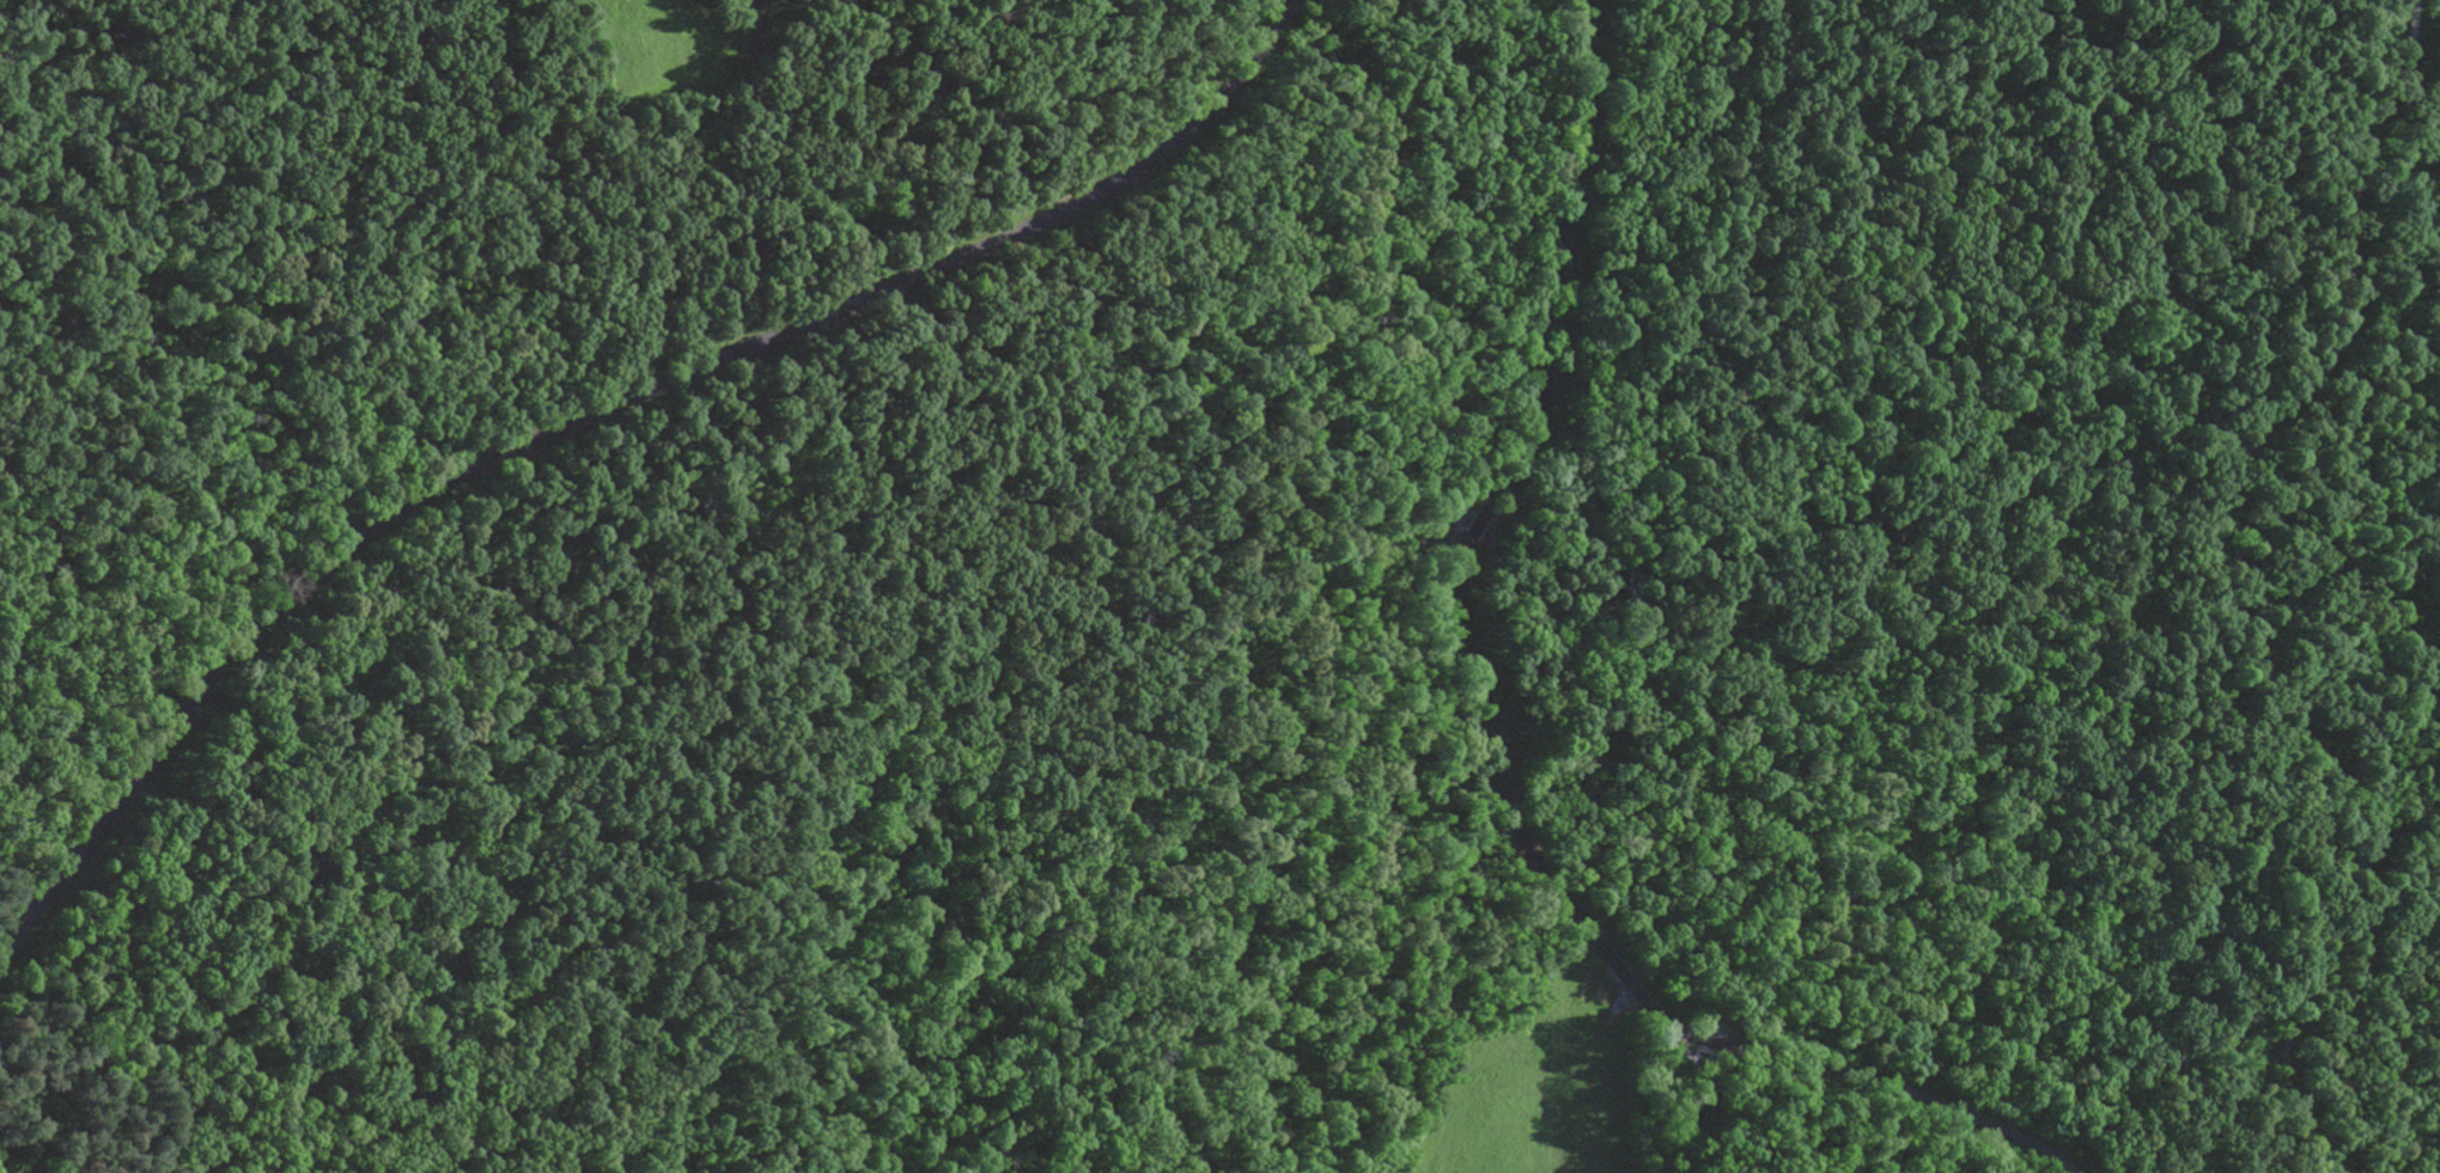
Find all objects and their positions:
road: (595, 414)
road: (2244, 597)
road: (1490, 746)

